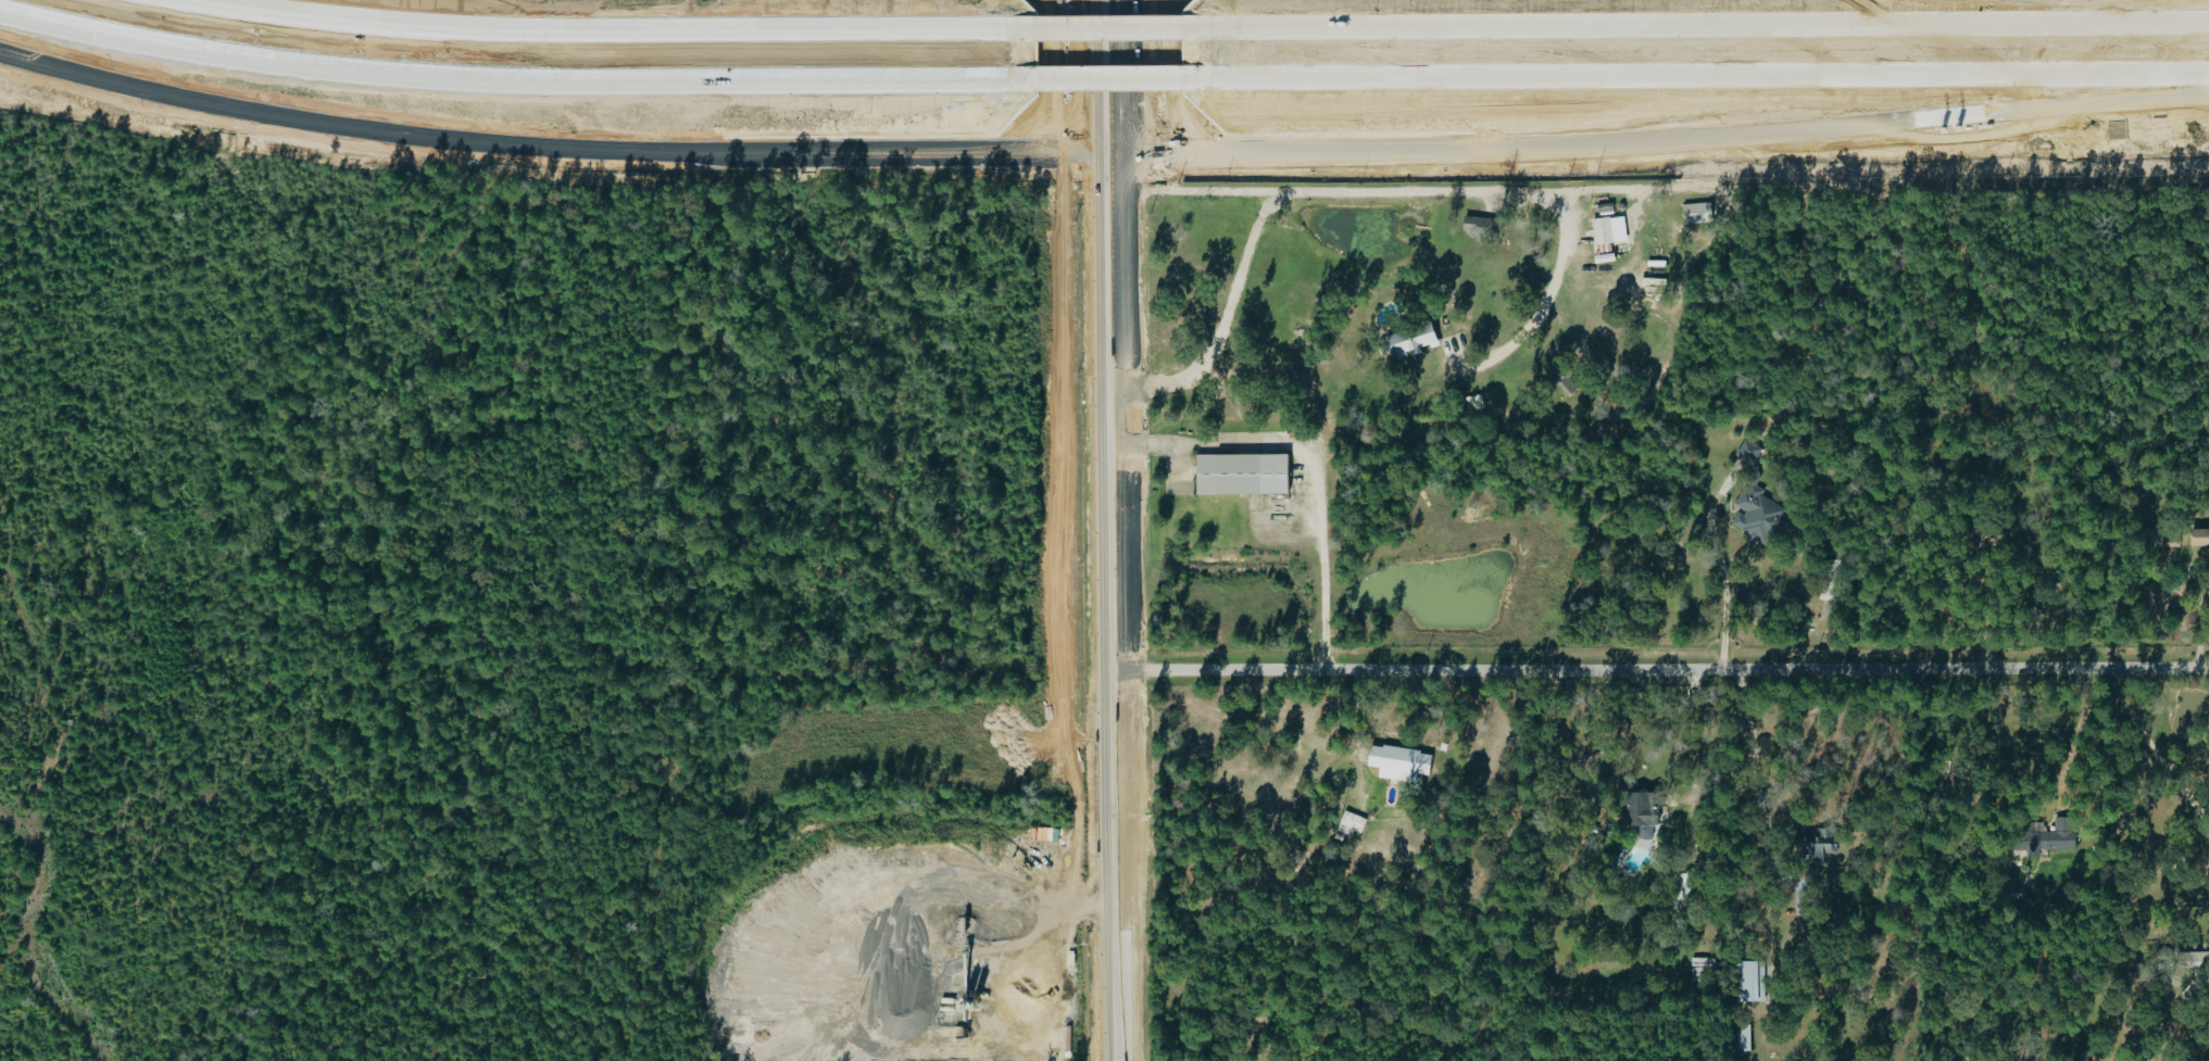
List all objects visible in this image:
road: (2144, 4)
road: (1693, 25)
road: (1103, 29)
road: (608, 31)
road: (1693, 75)
road: (1105, 78)
road: (513, 79)
road: (1165, 91)
road: (1052, 103)
road: (1101, 154)
traffic signals: (1110, 154)
road: (1530, 190)
building: (1698, 213)
building: (1478, 228)
building: (1605, 231)
road: (1537, 300)
building: (1413, 340)
building: (1565, 377)
road: (1304, 472)
building: (1246, 475)
building: (1753, 514)
road: (1117, 530)
building: (2197, 536)
building: (2168, 540)
road: (1723, 578)
road: (2197, 623)
road: (1665, 669)
road: (2068, 734)
road: (2152, 751)
road: (1752, 760)
building: (1402, 762)
building: (1649, 807)
building: (1353, 823)
building: (2036, 839)
building: (1817, 843)
building: (1064, 936)
building: (2187, 951)
building: (1754, 981)
building: (1744, 1038)

